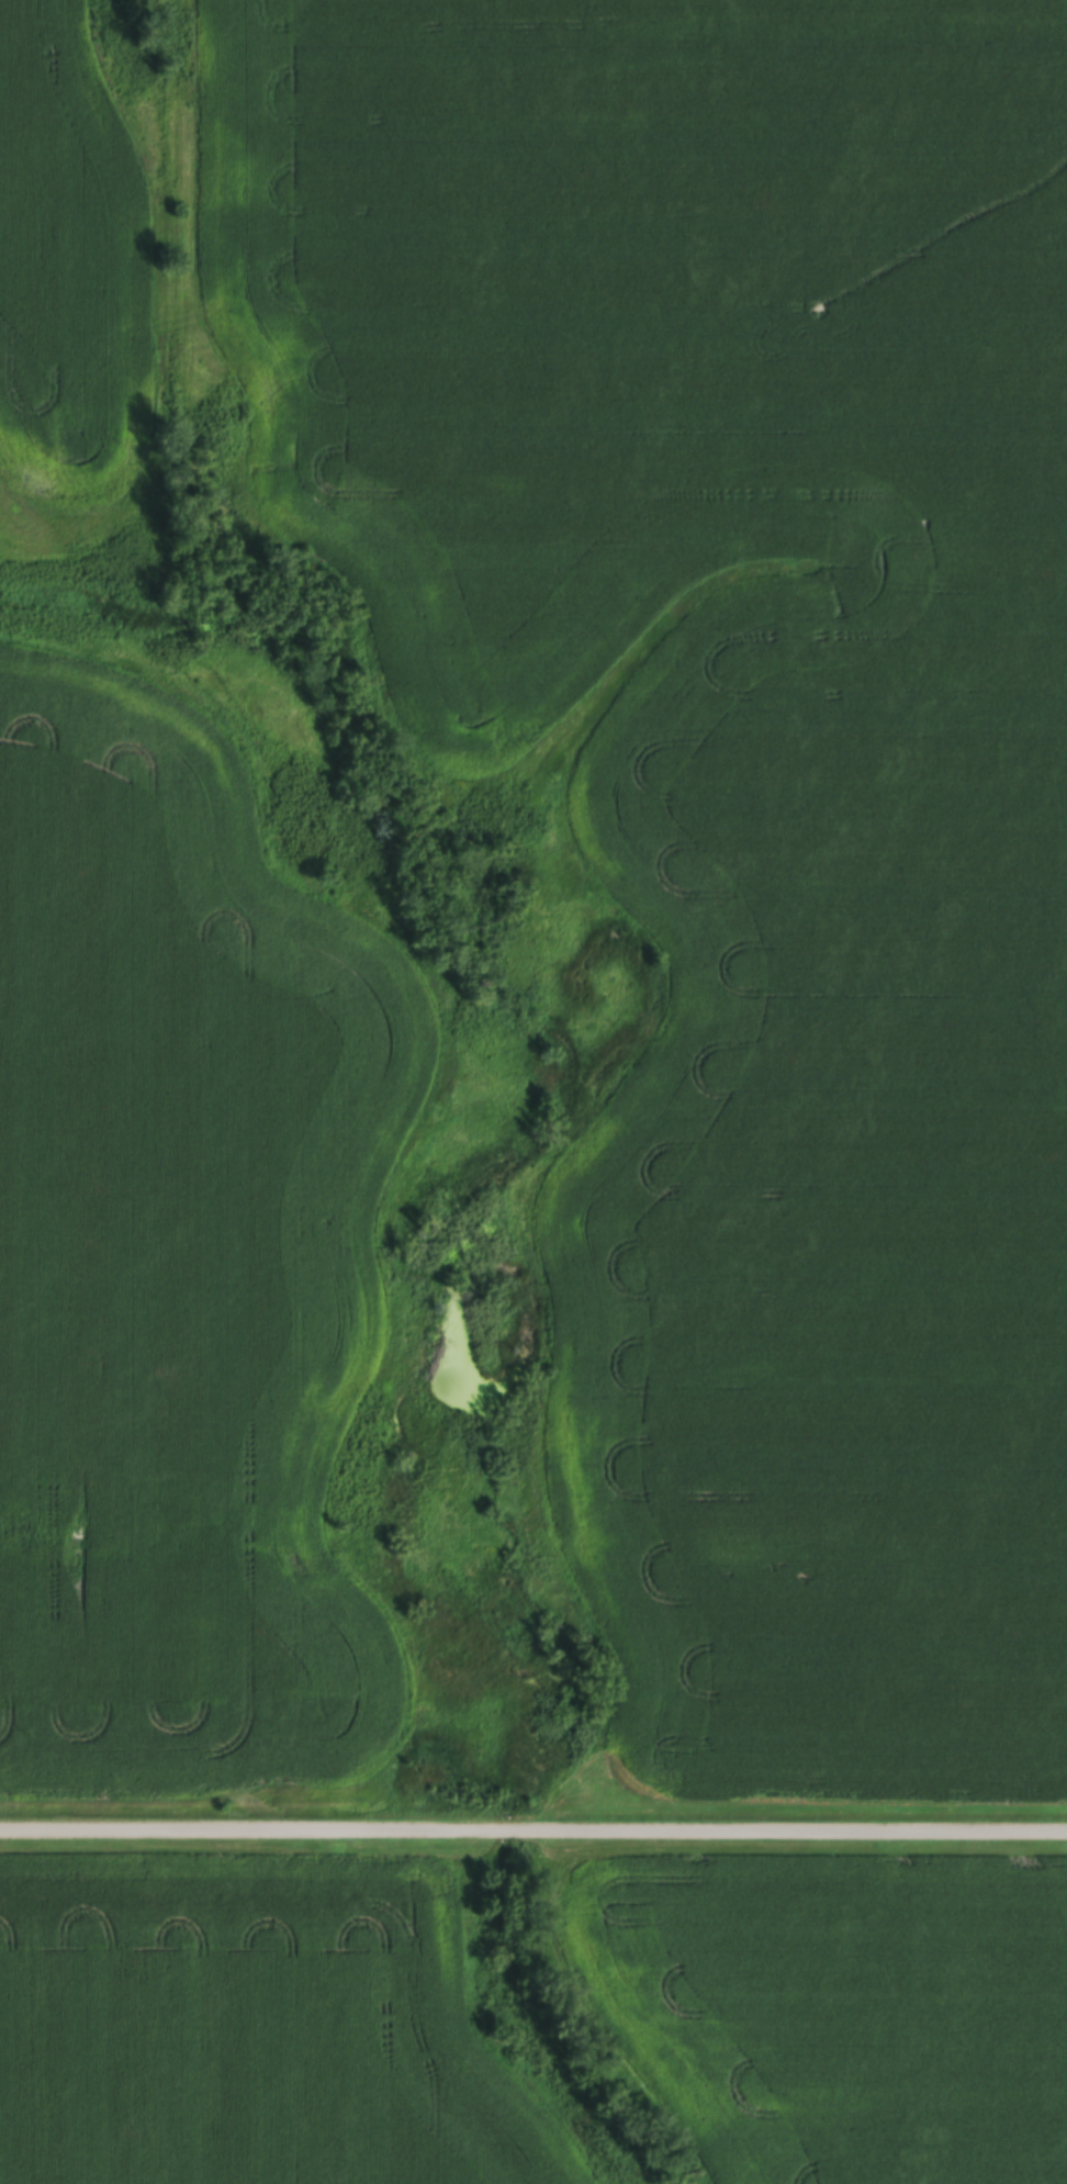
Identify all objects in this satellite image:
road: (532, 1824)
crop: (838, 2006)

